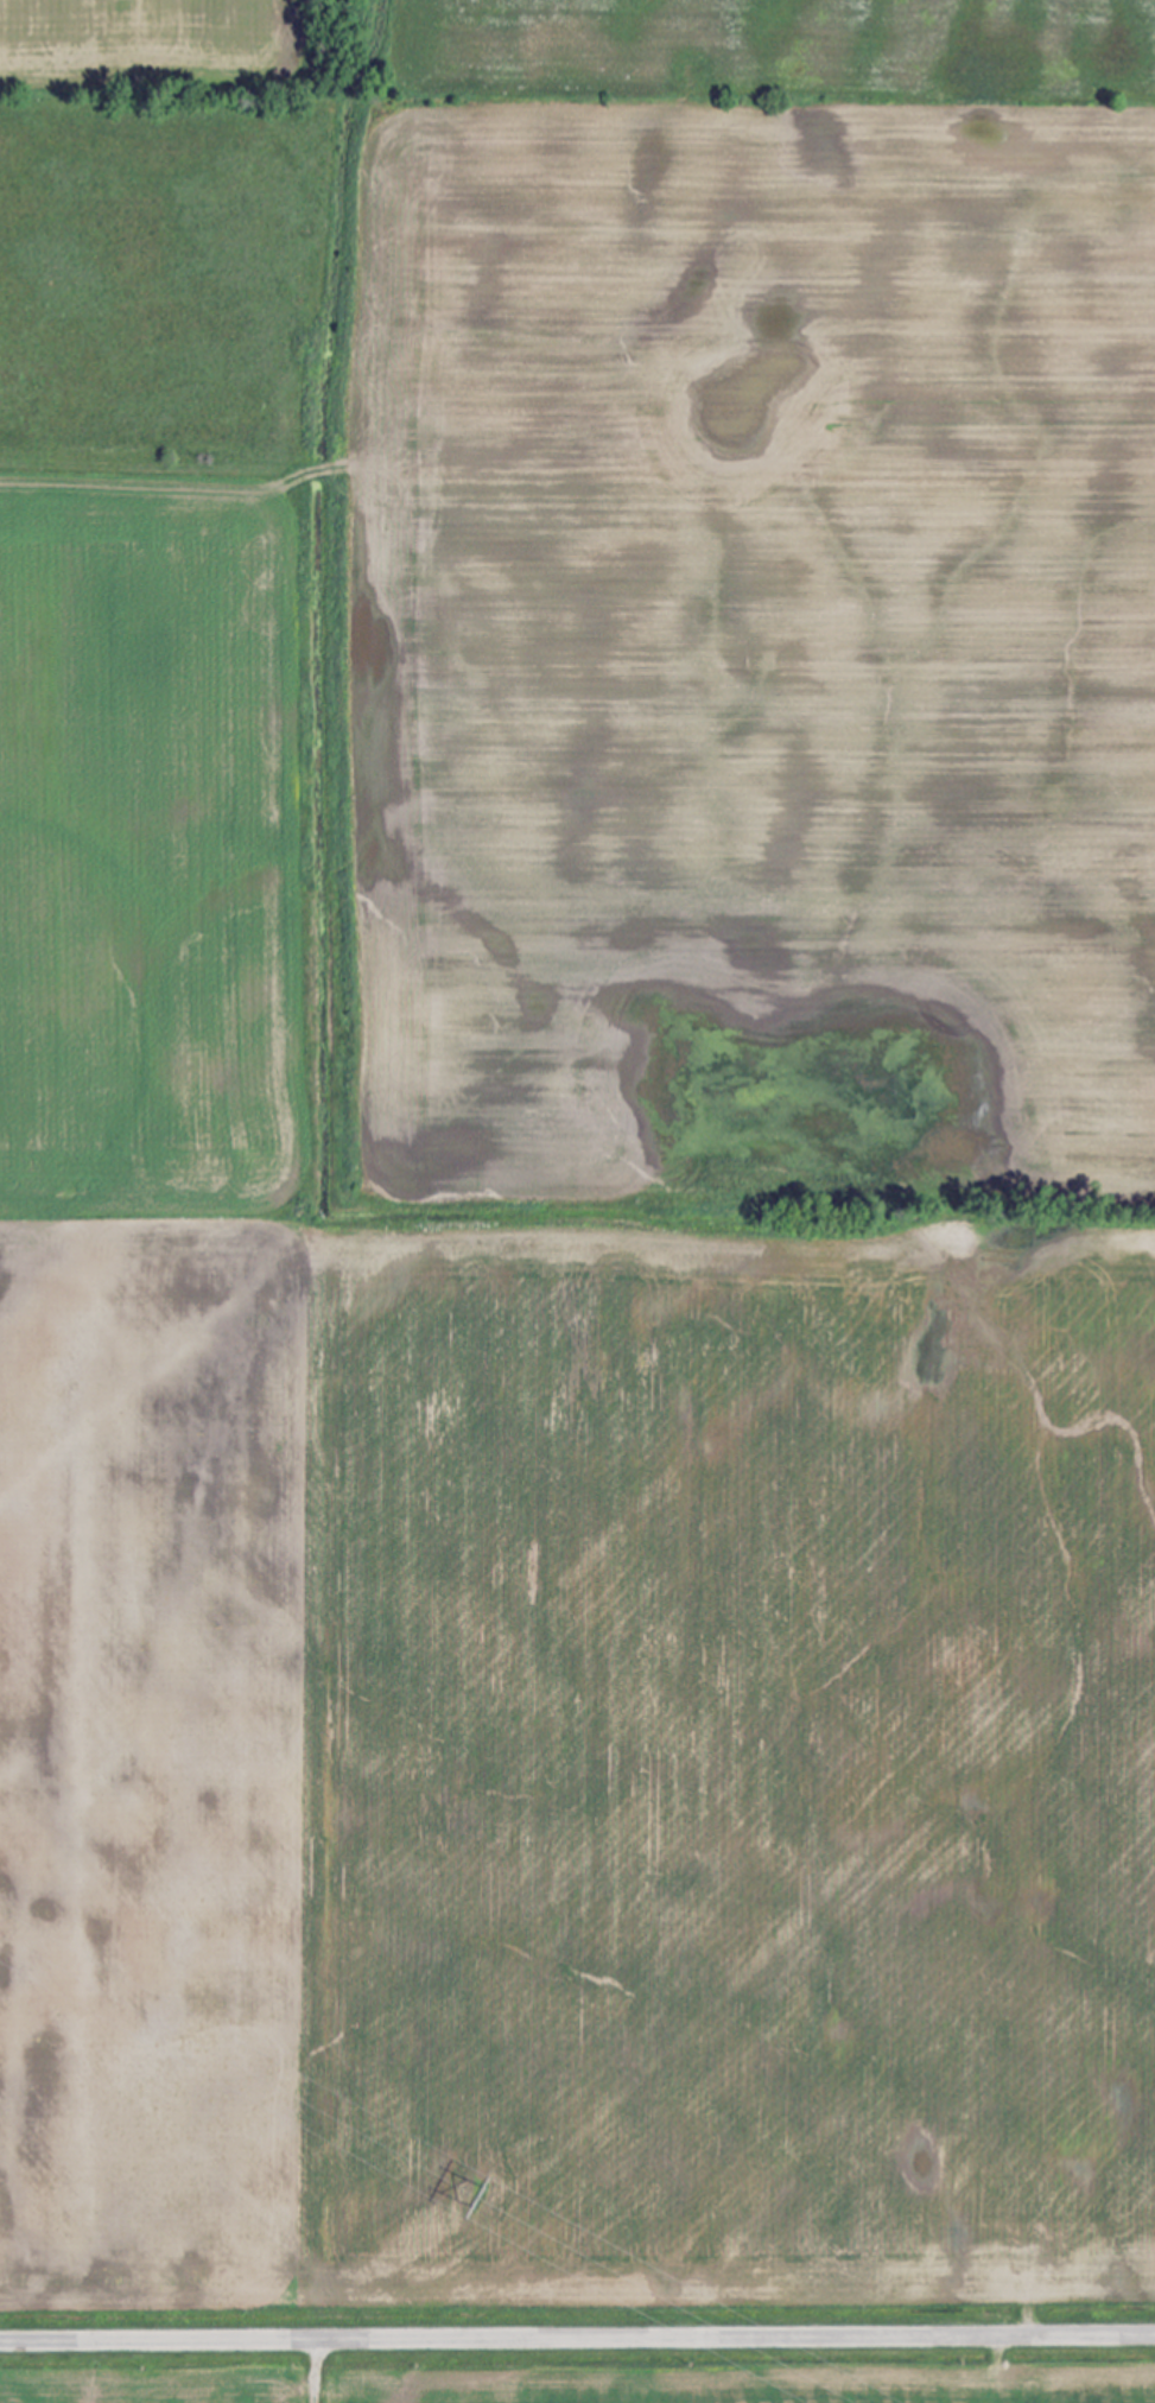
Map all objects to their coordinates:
power tower: (481, 2195)
road: (577, 2335)
road: (315, 2370)

